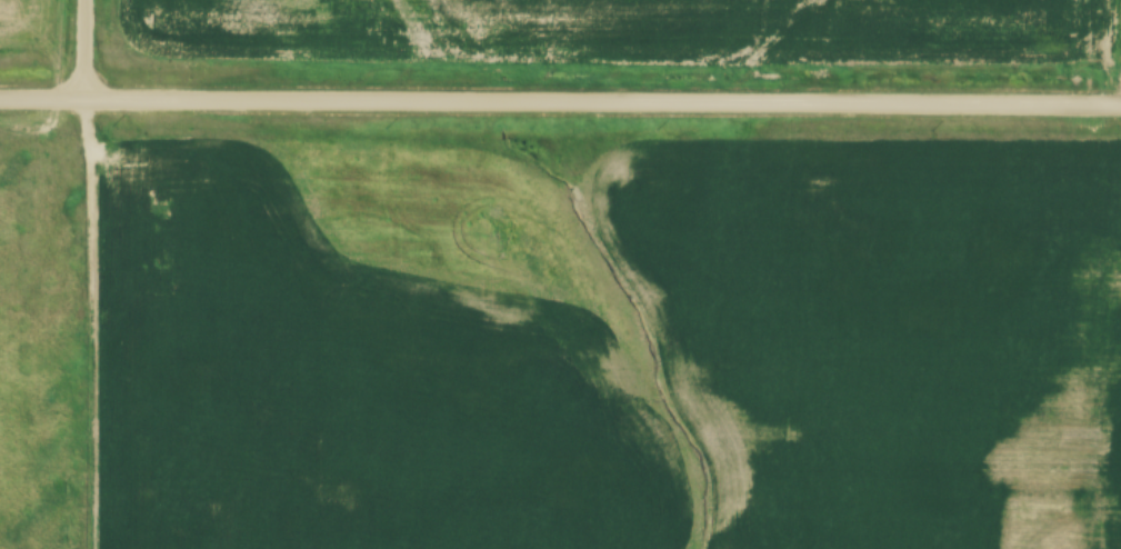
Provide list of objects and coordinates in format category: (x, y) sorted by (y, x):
road: (84, 48)
road: (560, 100)
road: (84, 322)

